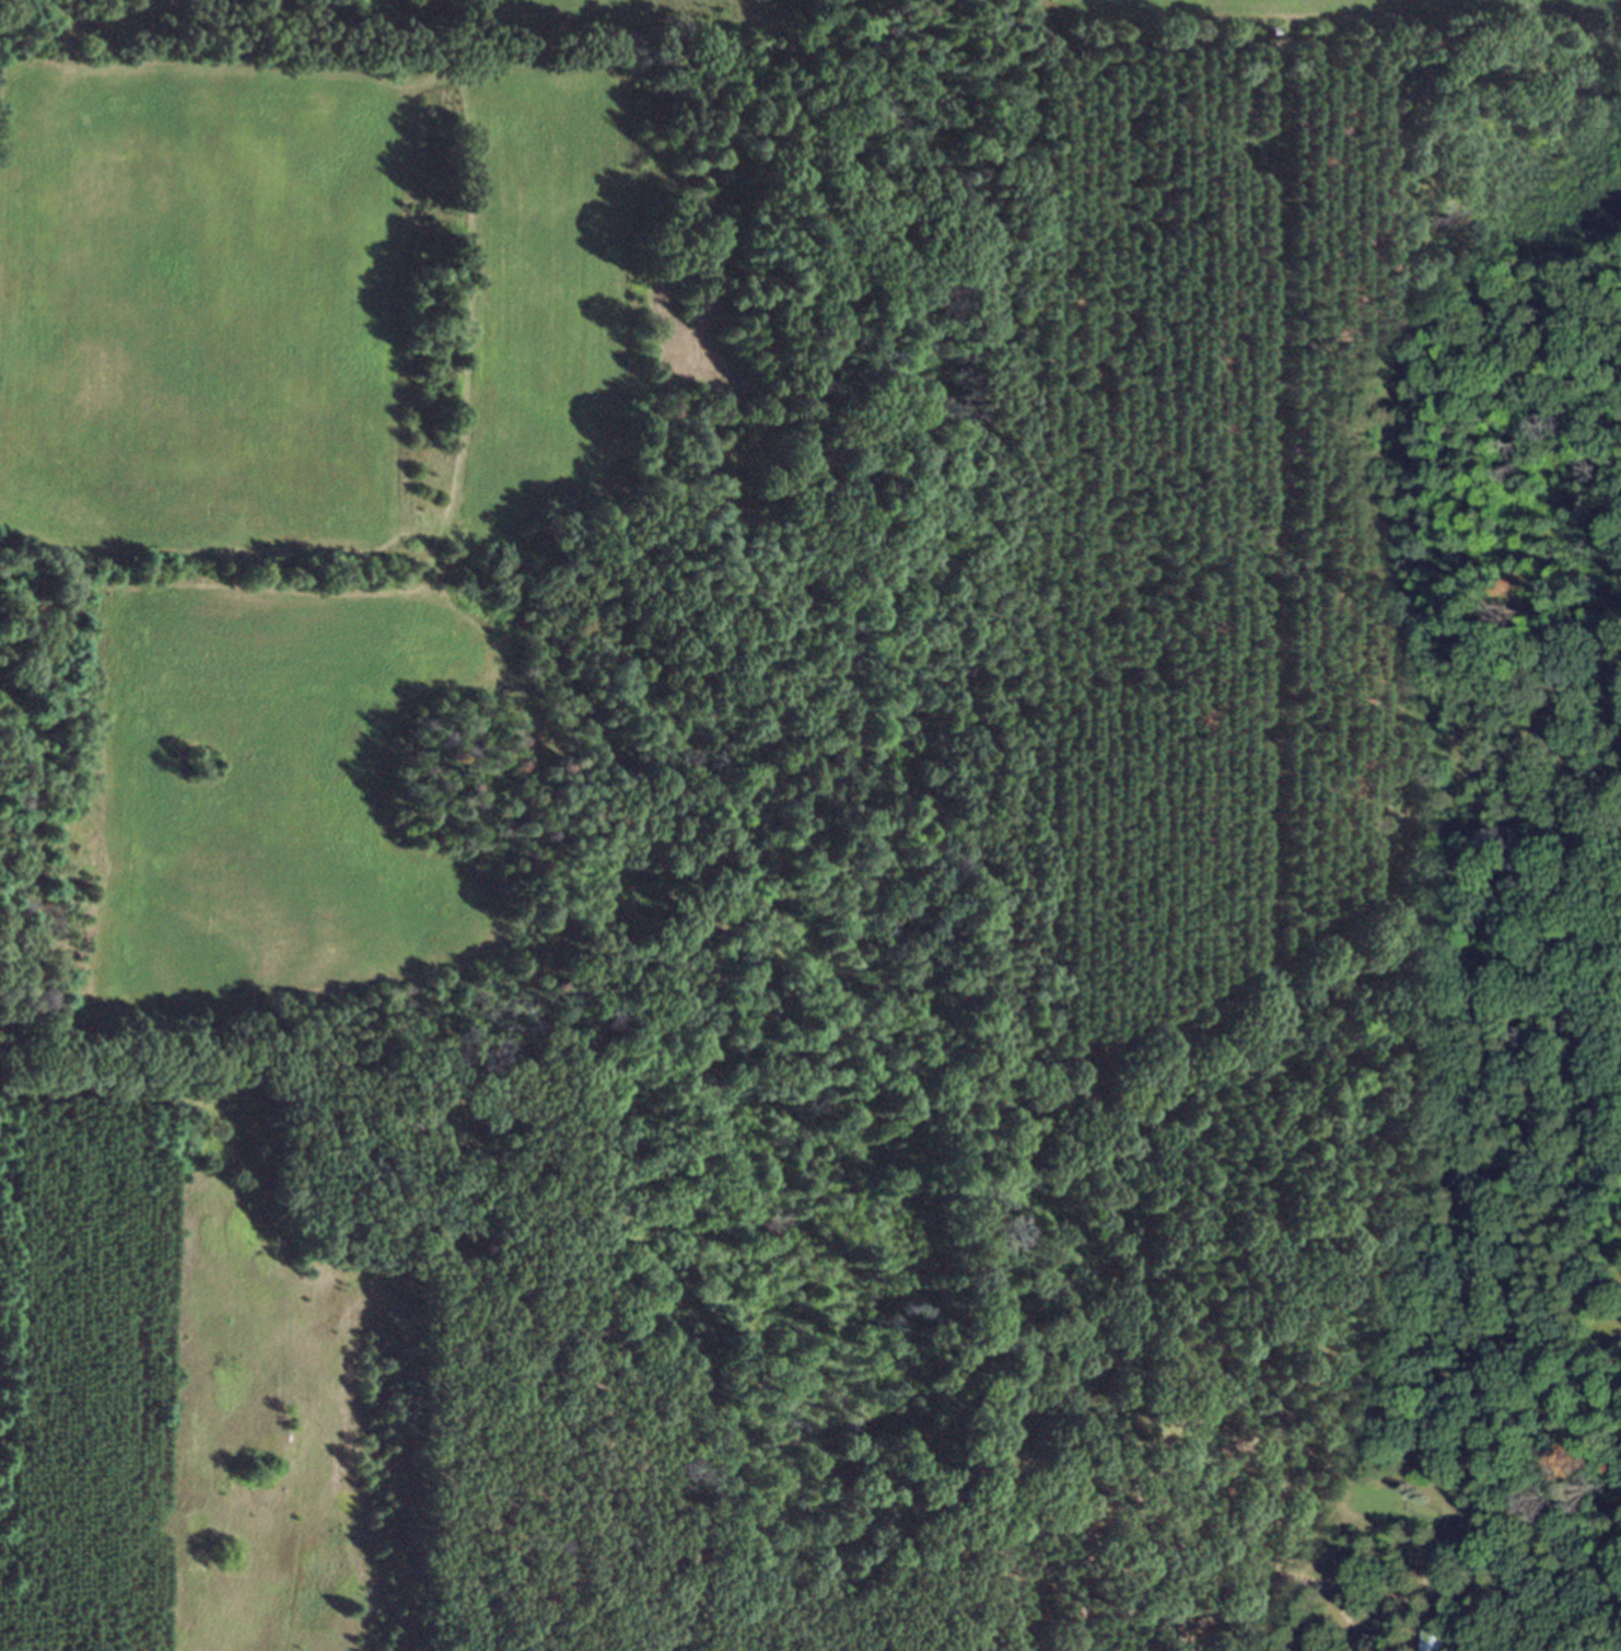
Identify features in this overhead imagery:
building: (1441, 1646)

